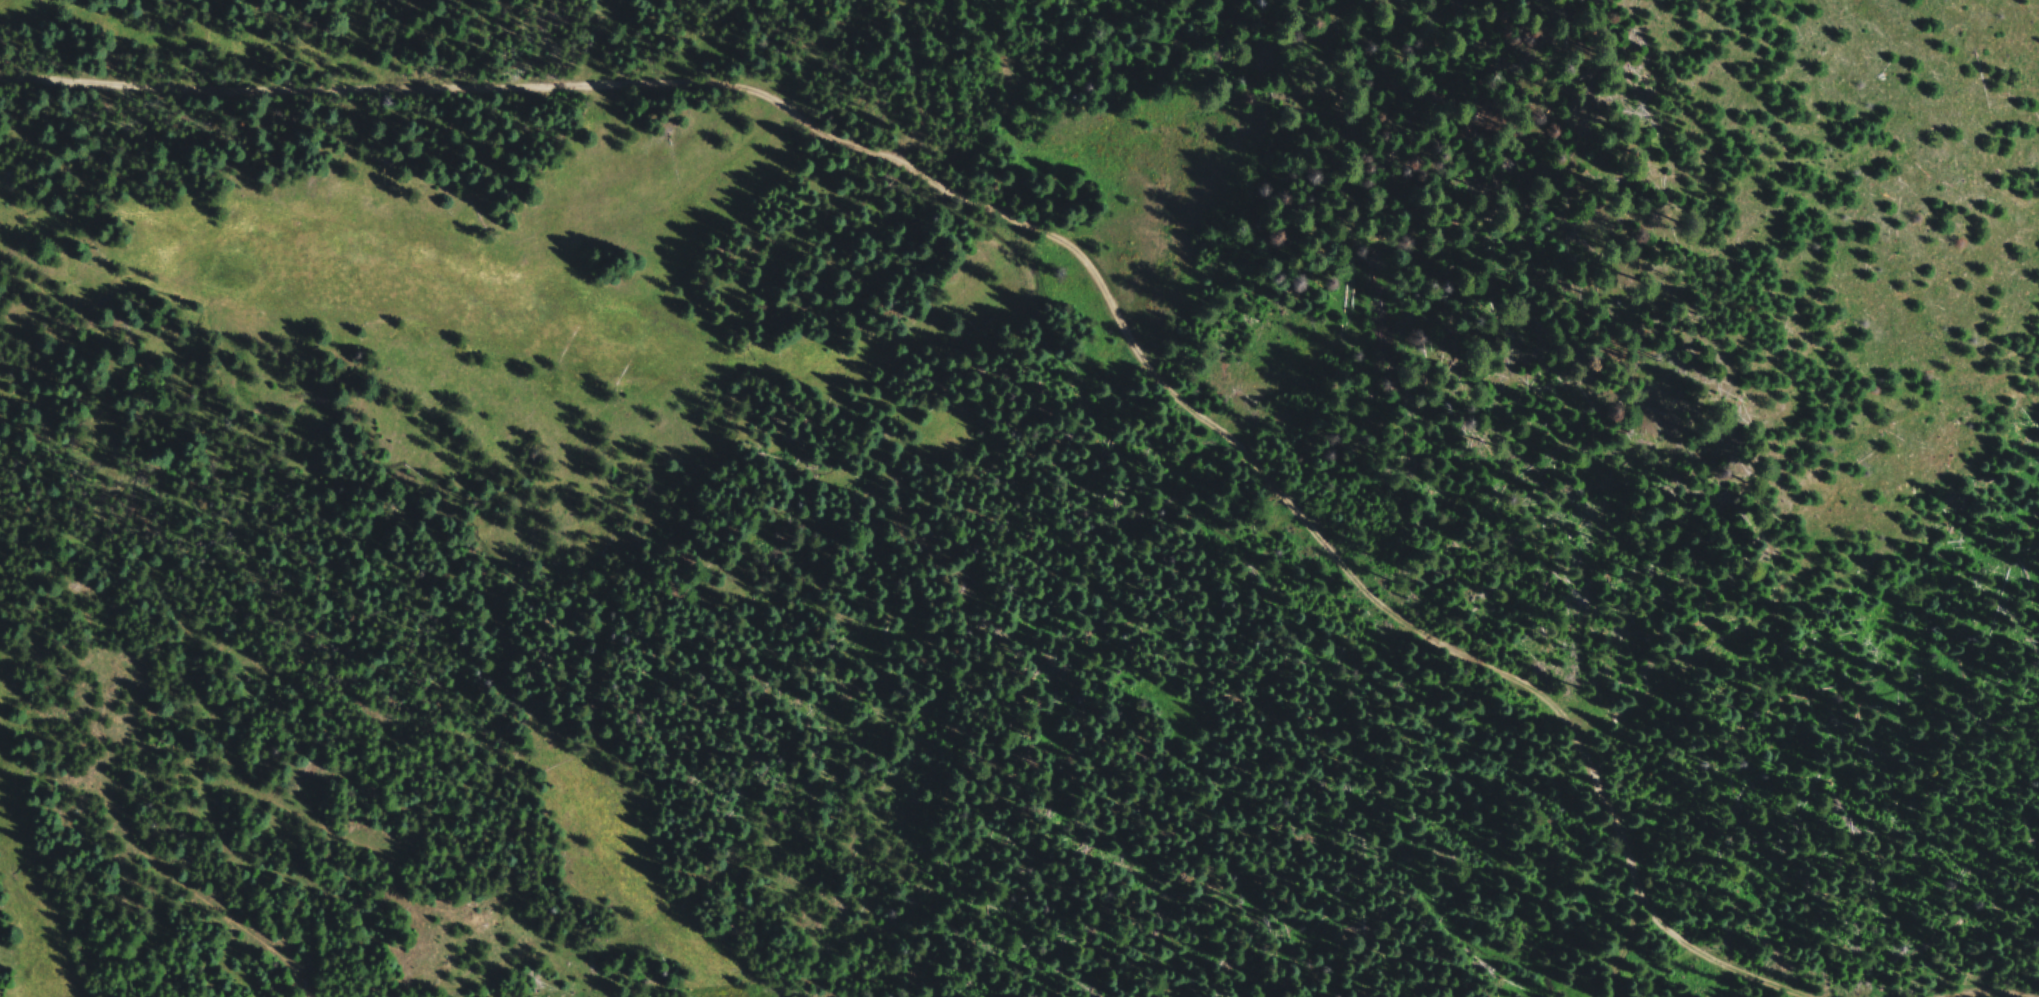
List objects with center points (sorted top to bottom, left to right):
road: (1044, 246)
road: (1978, 992)

